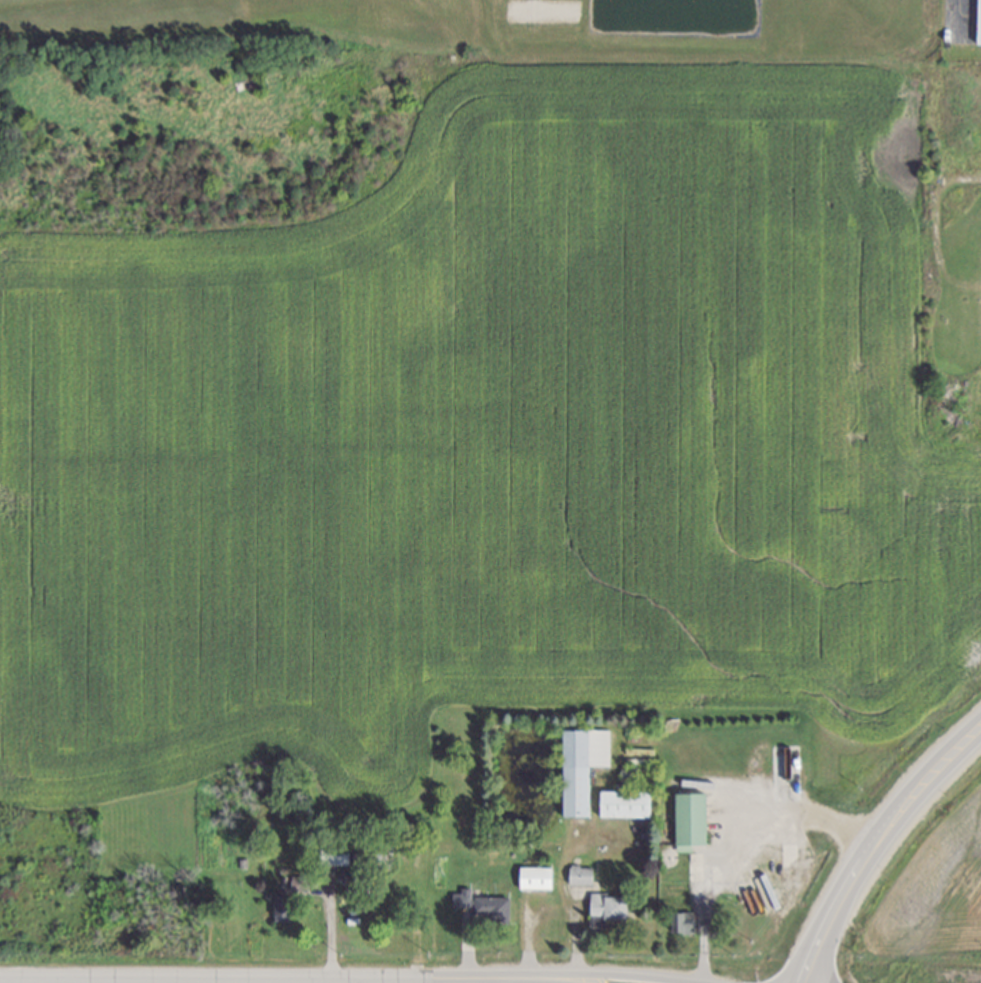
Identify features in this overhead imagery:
airport taxiway: (957, 4)
airport apron: (960, 21)
airport: (570, 23)
airport hangar: (979, 23)
building: (979, 23)
building: (581, 766)
building: (625, 803)
building: (690, 820)
road: (735, 826)
road: (876, 845)
building: (336, 856)
building: (581, 875)
building: (535, 877)
building: (483, 905)
building: (282, 908)
building: (607, 908)
road: (331, 920)
building: (682, 922)
road: (618, 972)
road: (261, 978)
road: (492, 980)
road: (546, 980)

